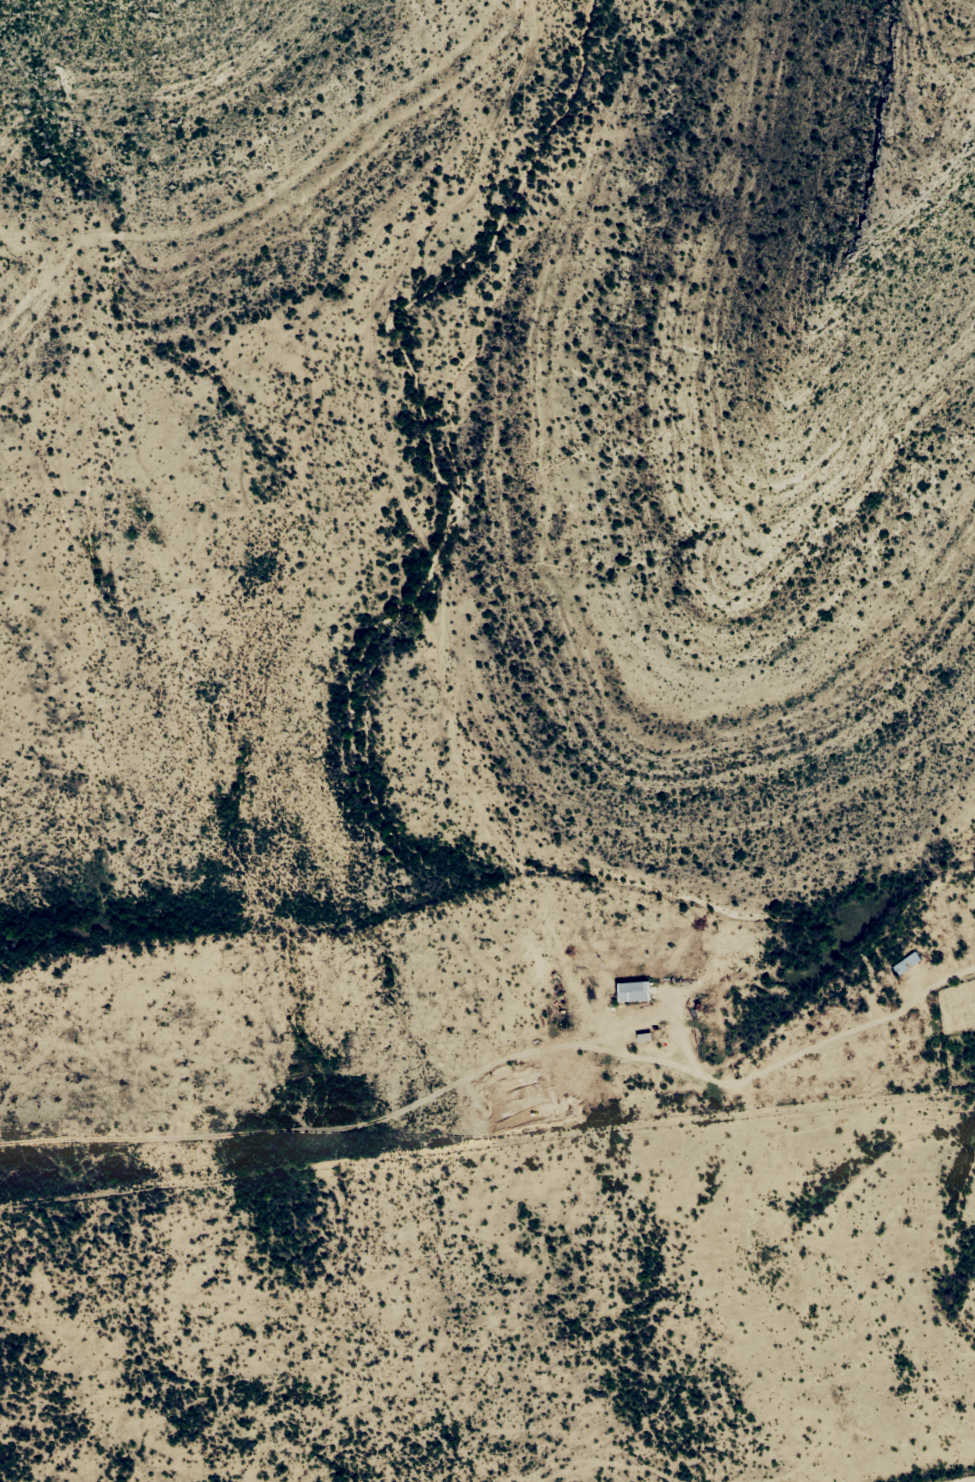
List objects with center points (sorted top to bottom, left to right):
building: (905, 961)
building: (630, 989)

